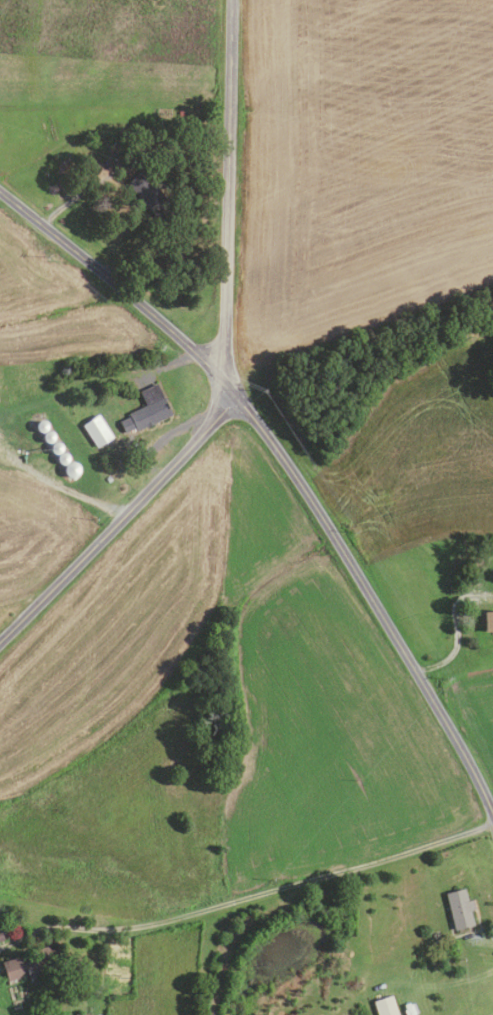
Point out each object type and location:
road: (227, 189)
road: (75, 197)
building: (153, 200)
building: (146, 410)
building: (40, 426)
silo: (40, 426)
building: (95, 431)
building: (47, 437)
silo: (47, 437)
building: (54, 447)
silo: (54, 447)
building: (61, 458)
silo: (61, 458)
road: (143, 461)
road: (288, 468)
building: (70, 469)
silo: (70, 469)
building: (108, 479)
road: (59, 487)
road: (123, 516)
road: (19, 599)
building: (487, 620)
road: (456, 631)
road: (248, 897)
building: (458, 908)
building: (0, 937)
road: (482, 941)
building: (31, 963)
building: (384, 1006)
building: (82, 1014)

